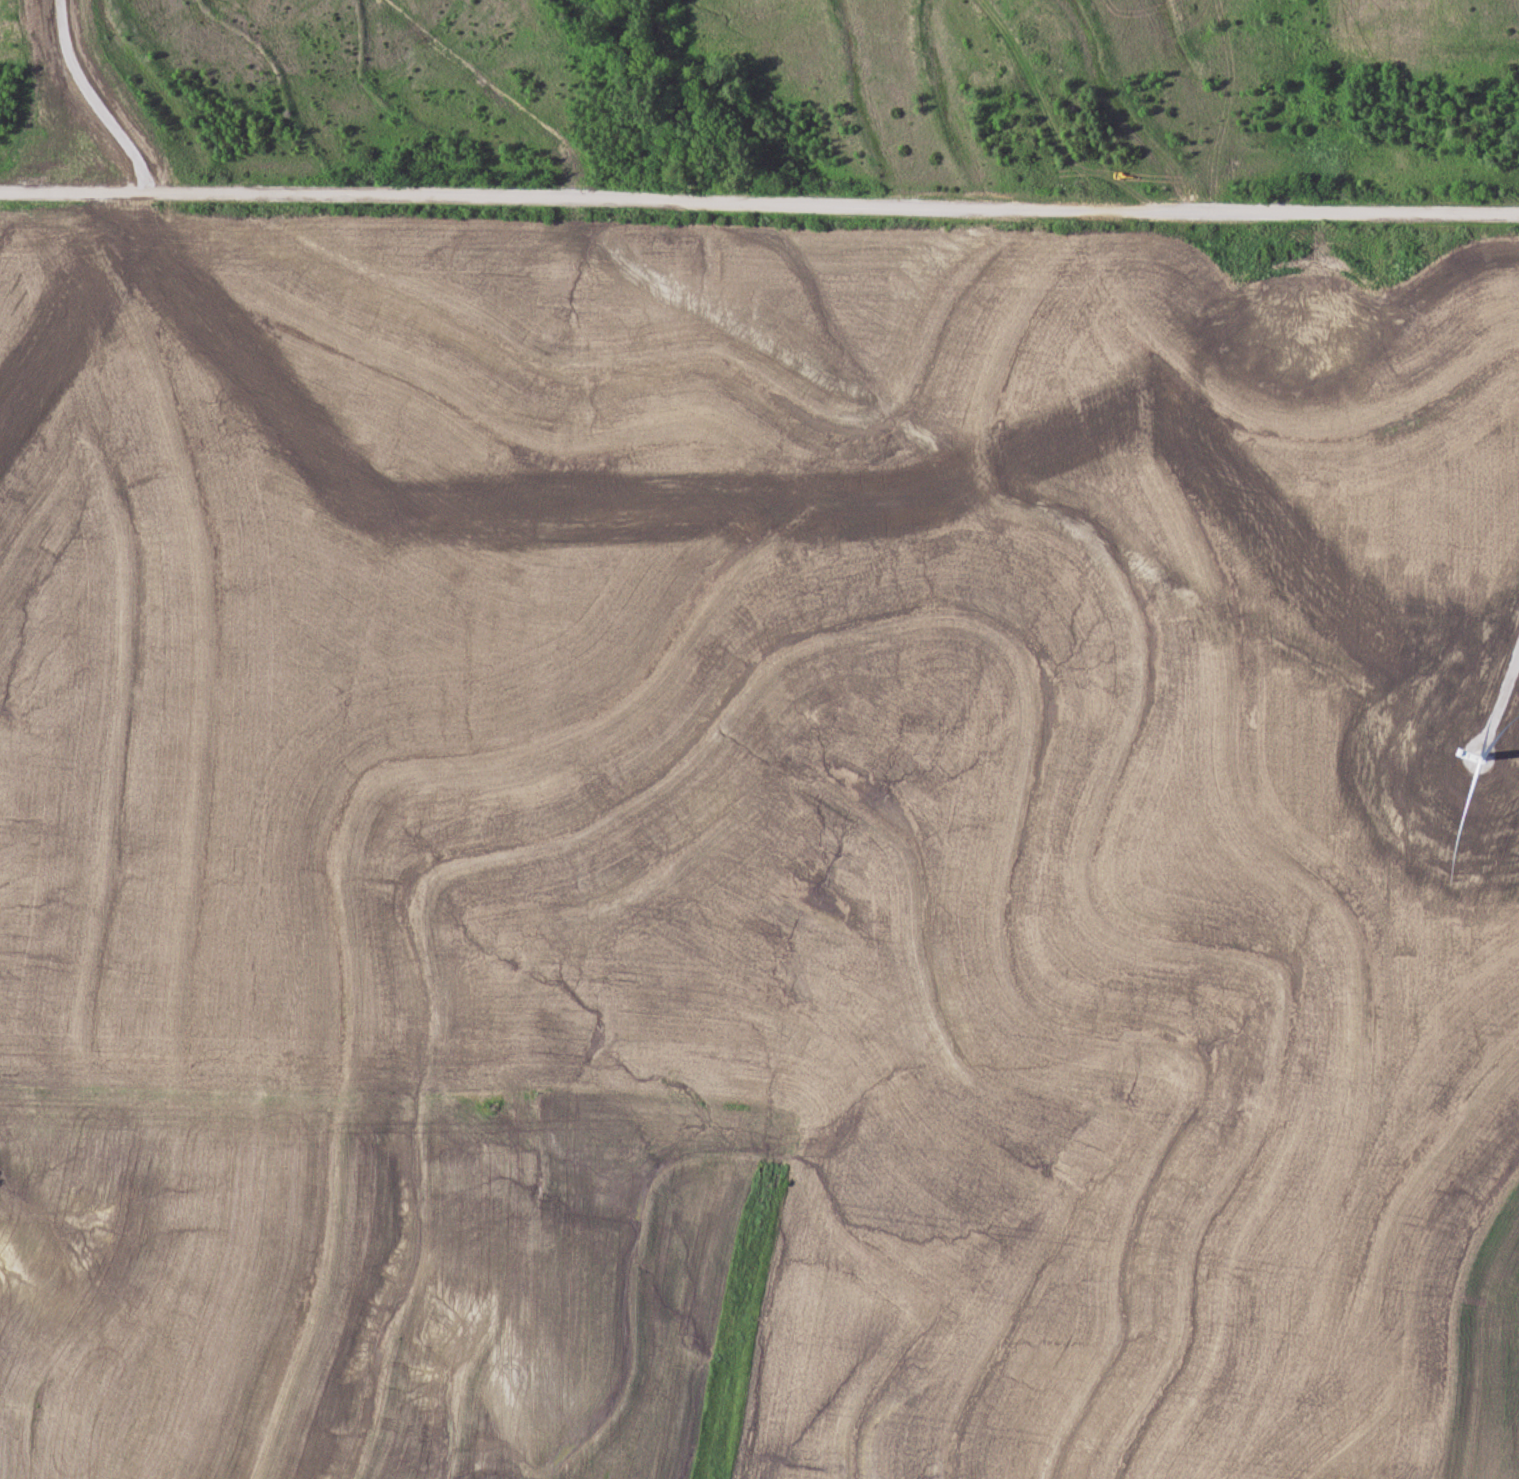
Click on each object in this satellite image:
road: (759, 199)
wind turbine: (1471, 757)

